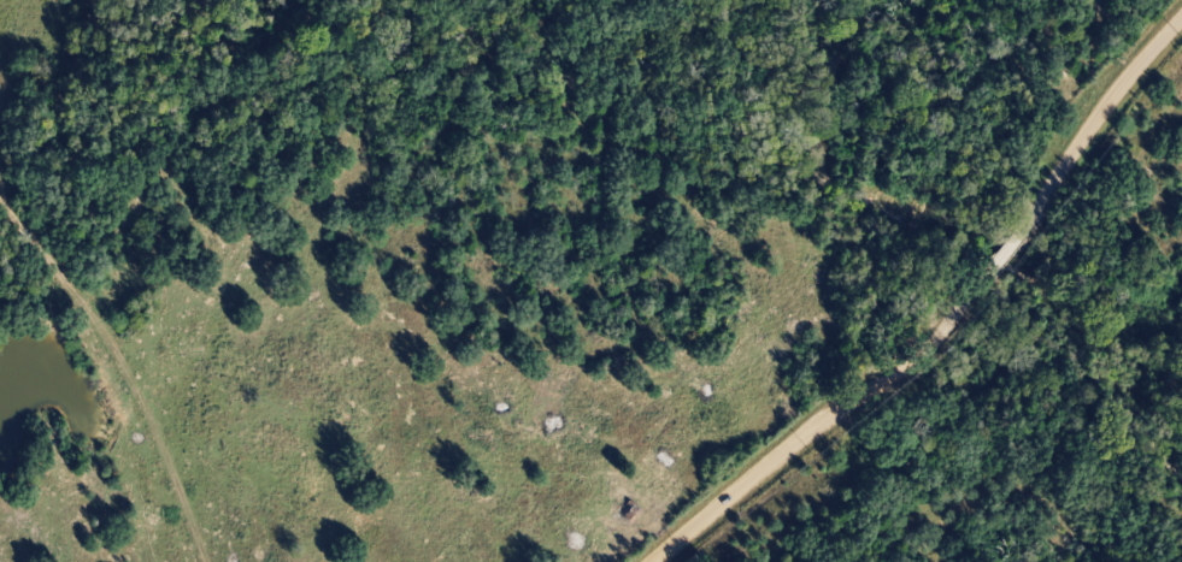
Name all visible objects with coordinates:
road: (947, 323)

